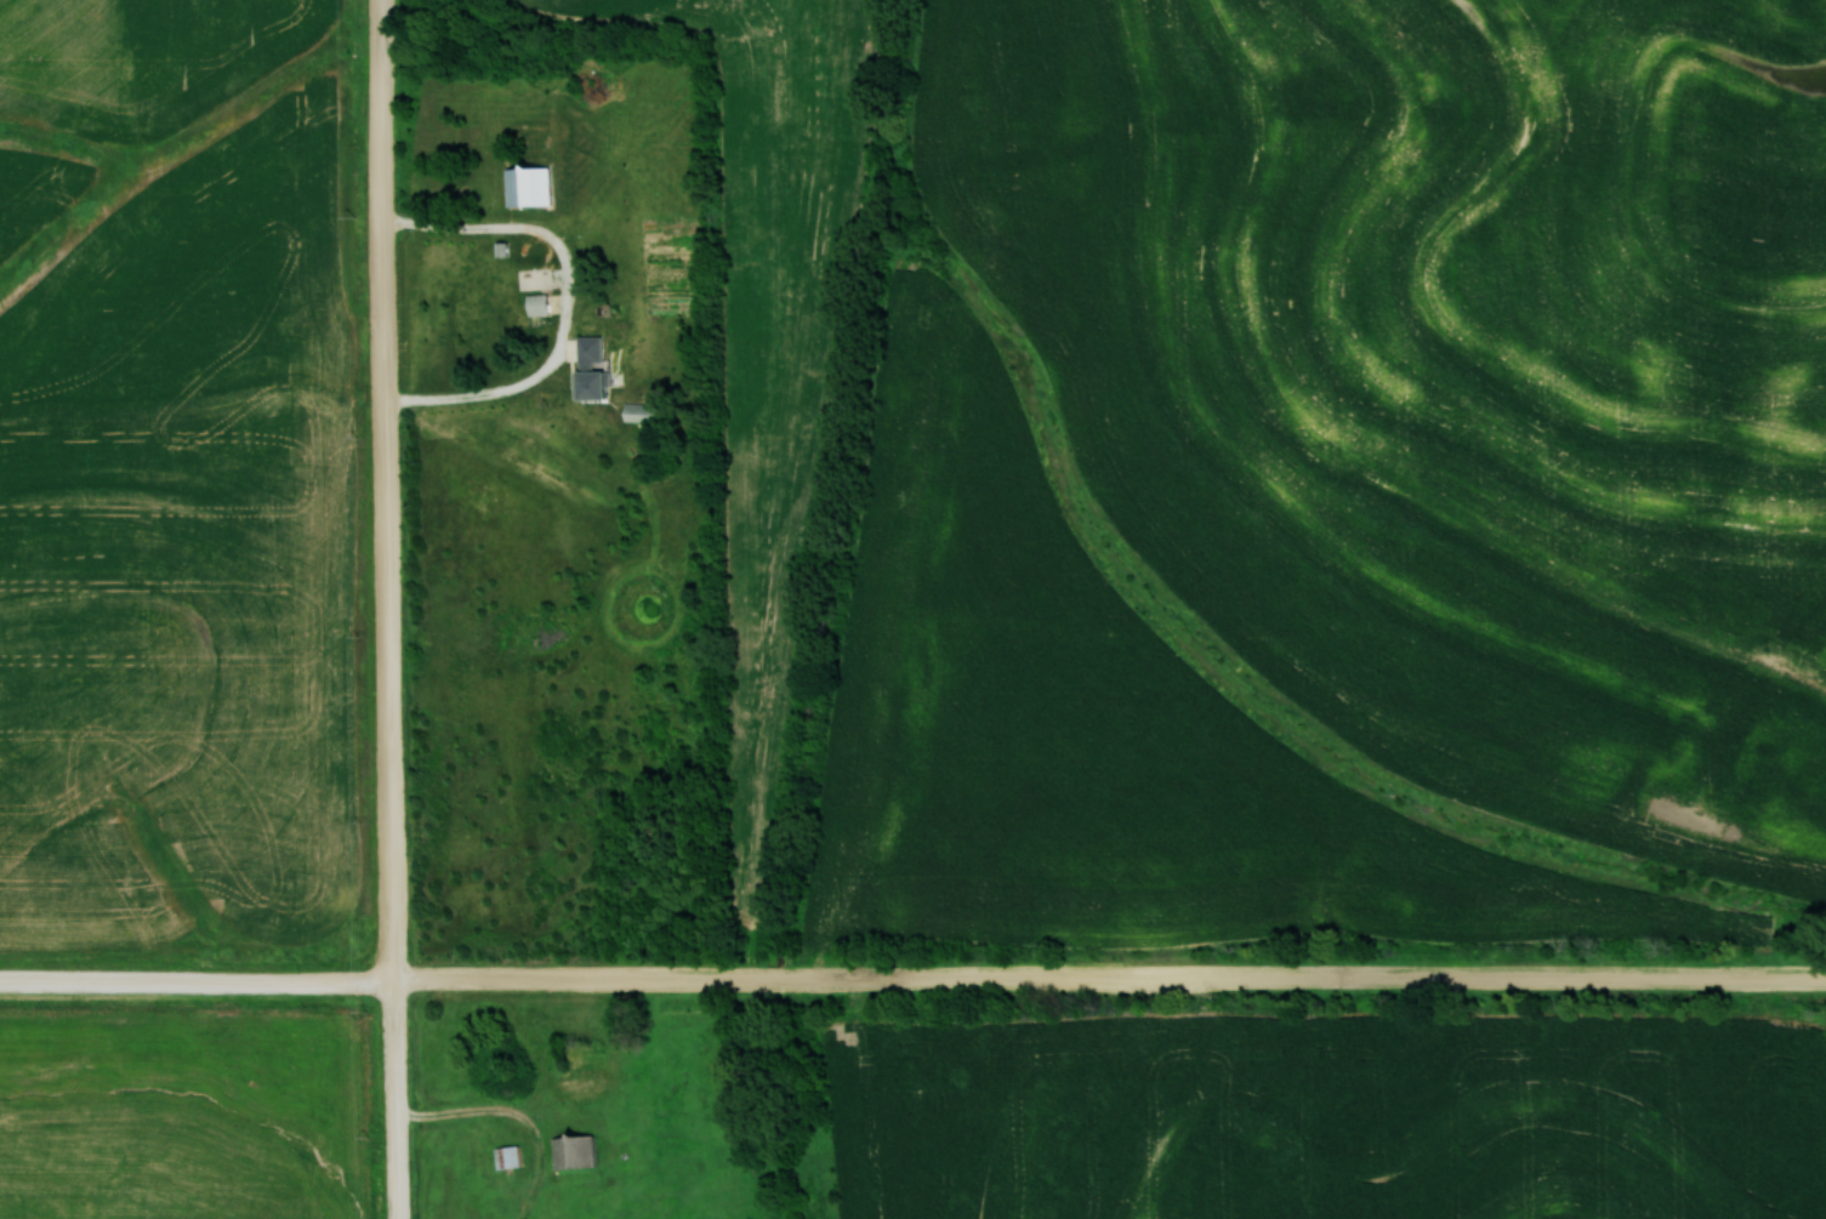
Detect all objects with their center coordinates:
building: (539, 304)
building: (590, 364)
building: (643, 412)
road: (399, 609)
road: (912, 968)
building: (575, 1054)
building: (575, 1152)
building: (510, 1158)

